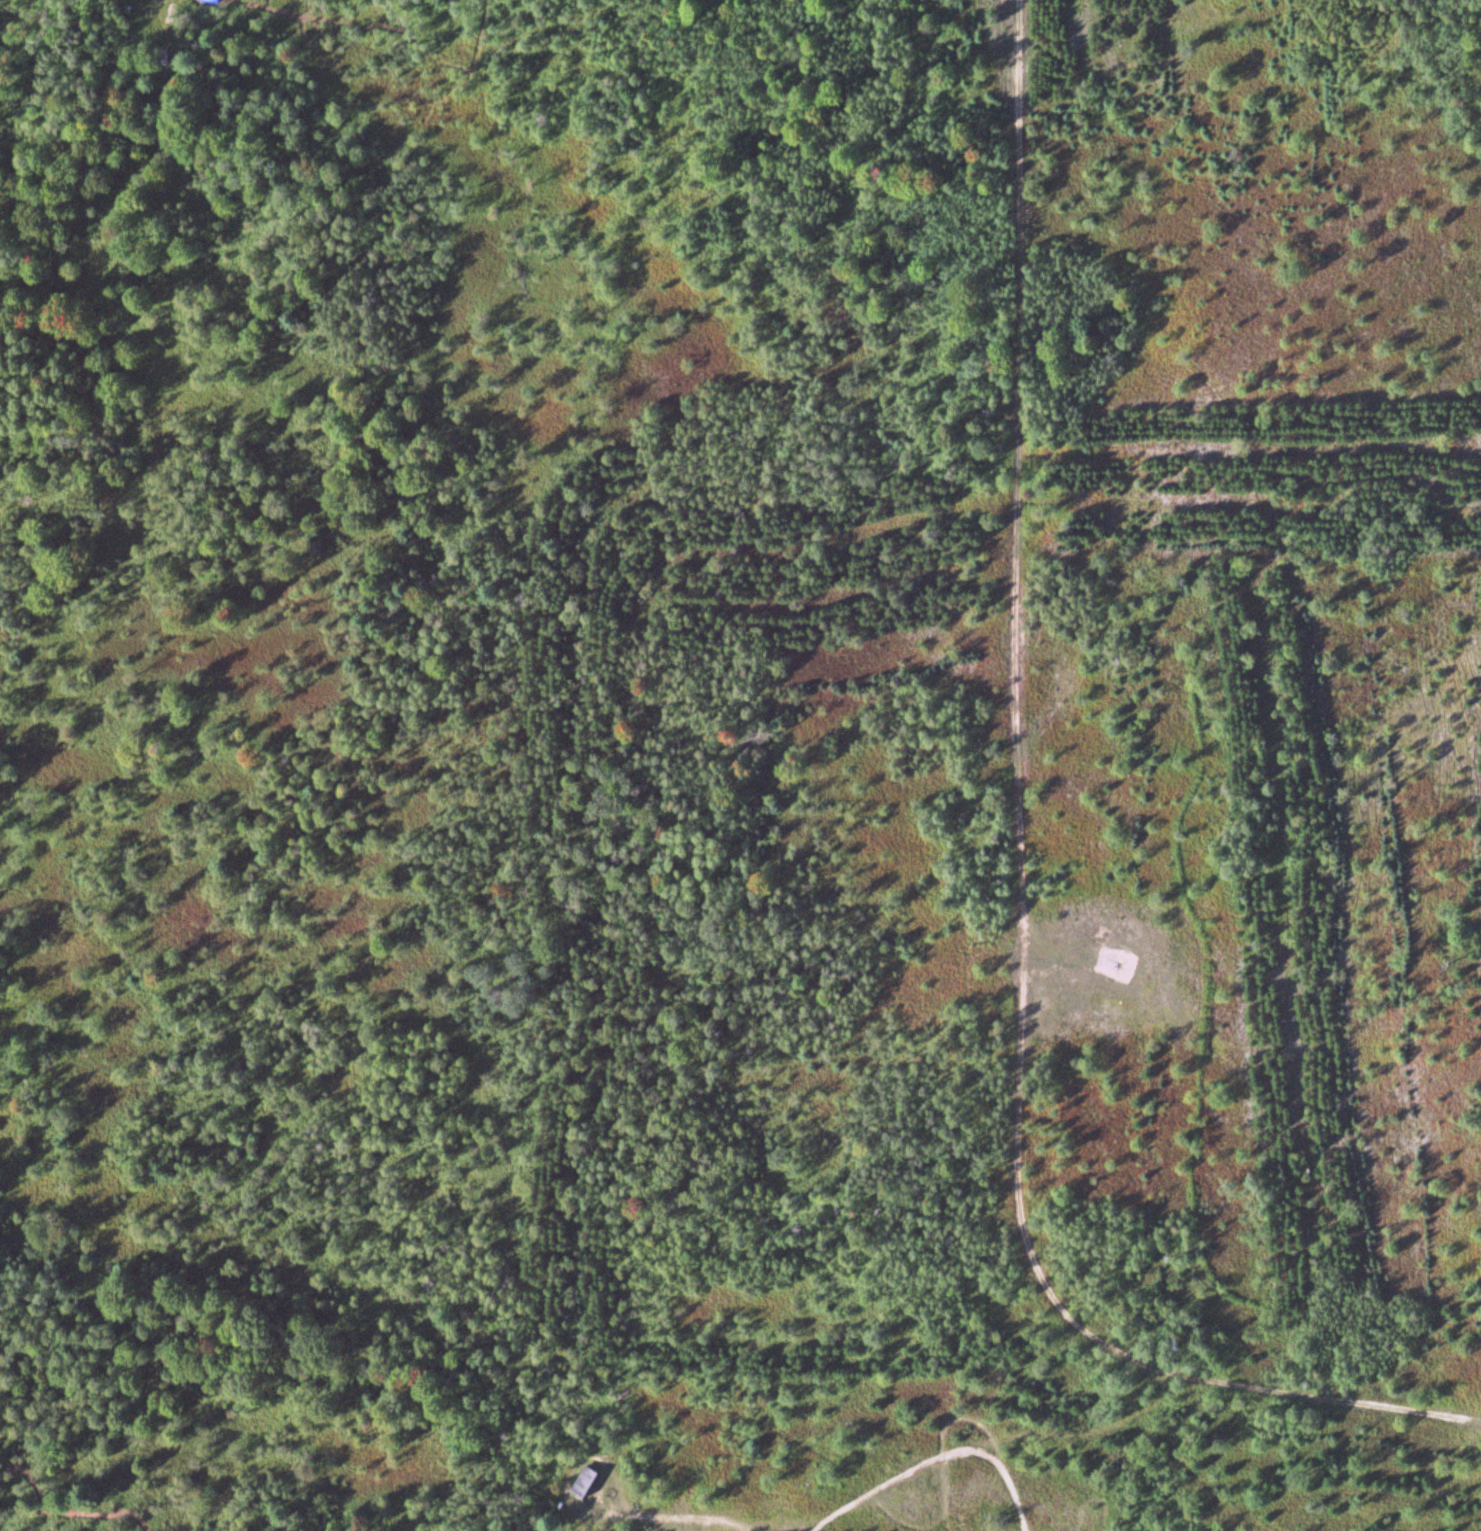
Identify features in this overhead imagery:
road: (1017, 880)
petroleum well: (1116, 962)
building: (590, 1480)
road: (654, 1513)
road: (707, 1520)
road: (740, 1521)

